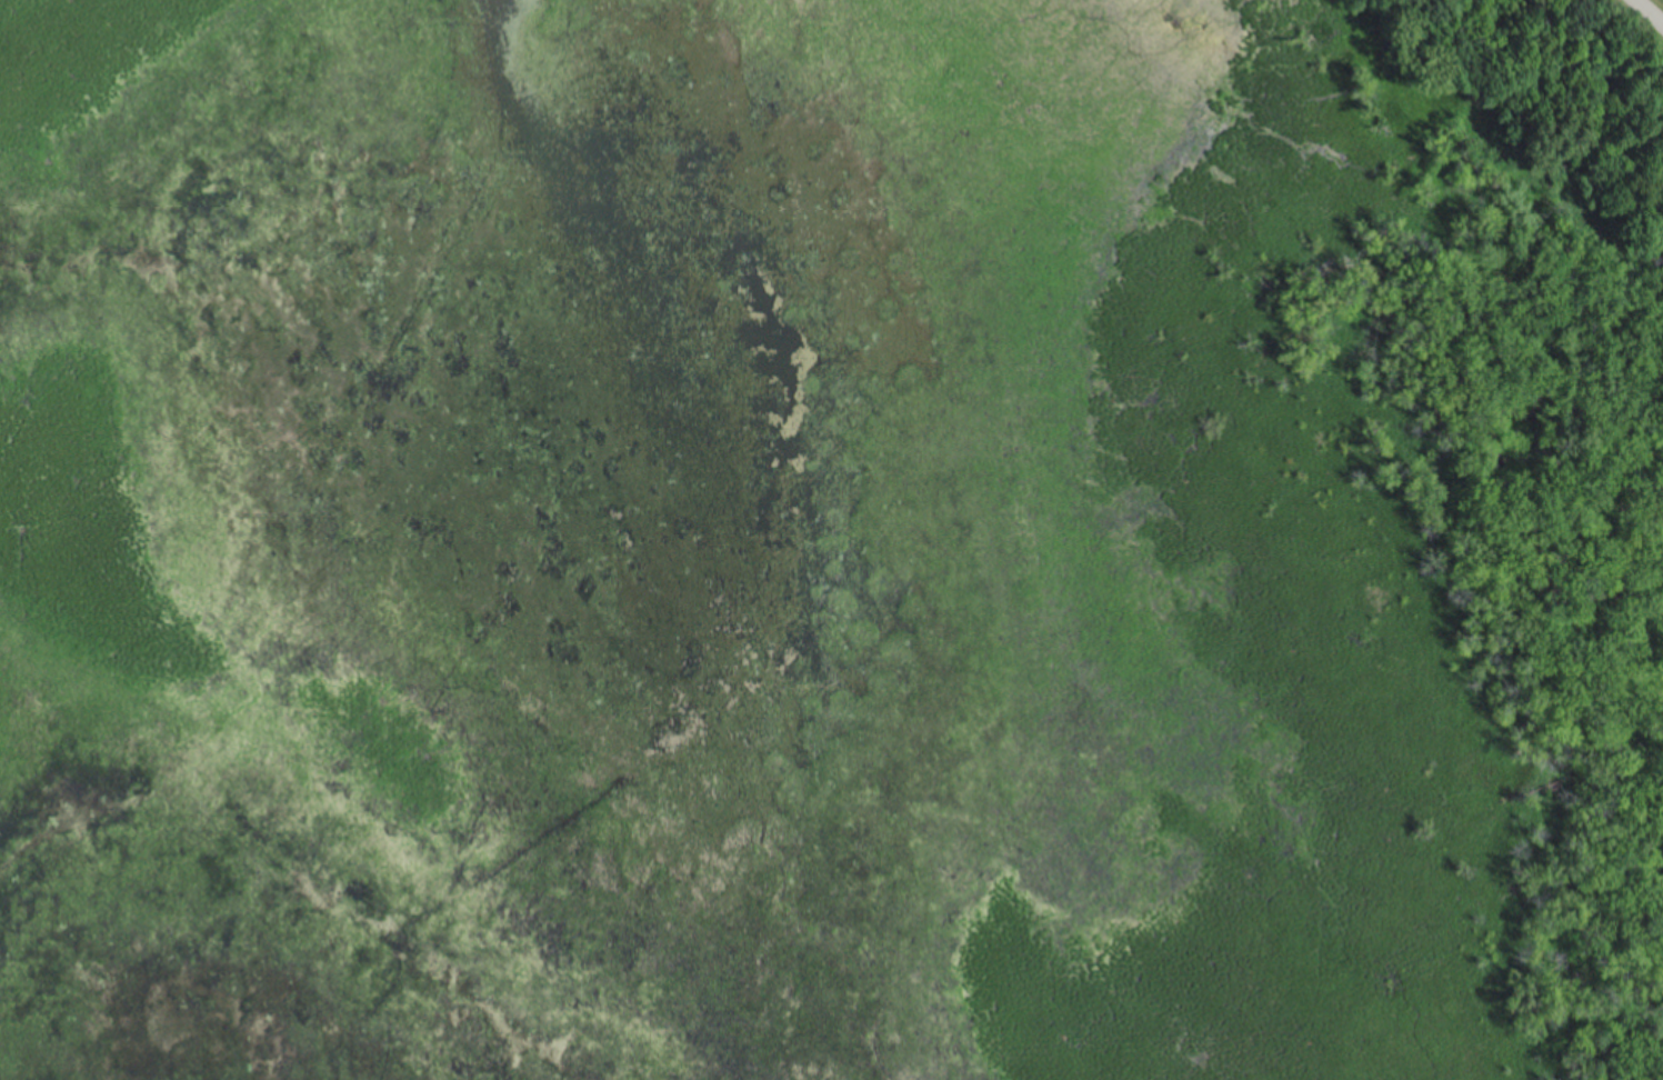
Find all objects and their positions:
road: (1650, 10)

